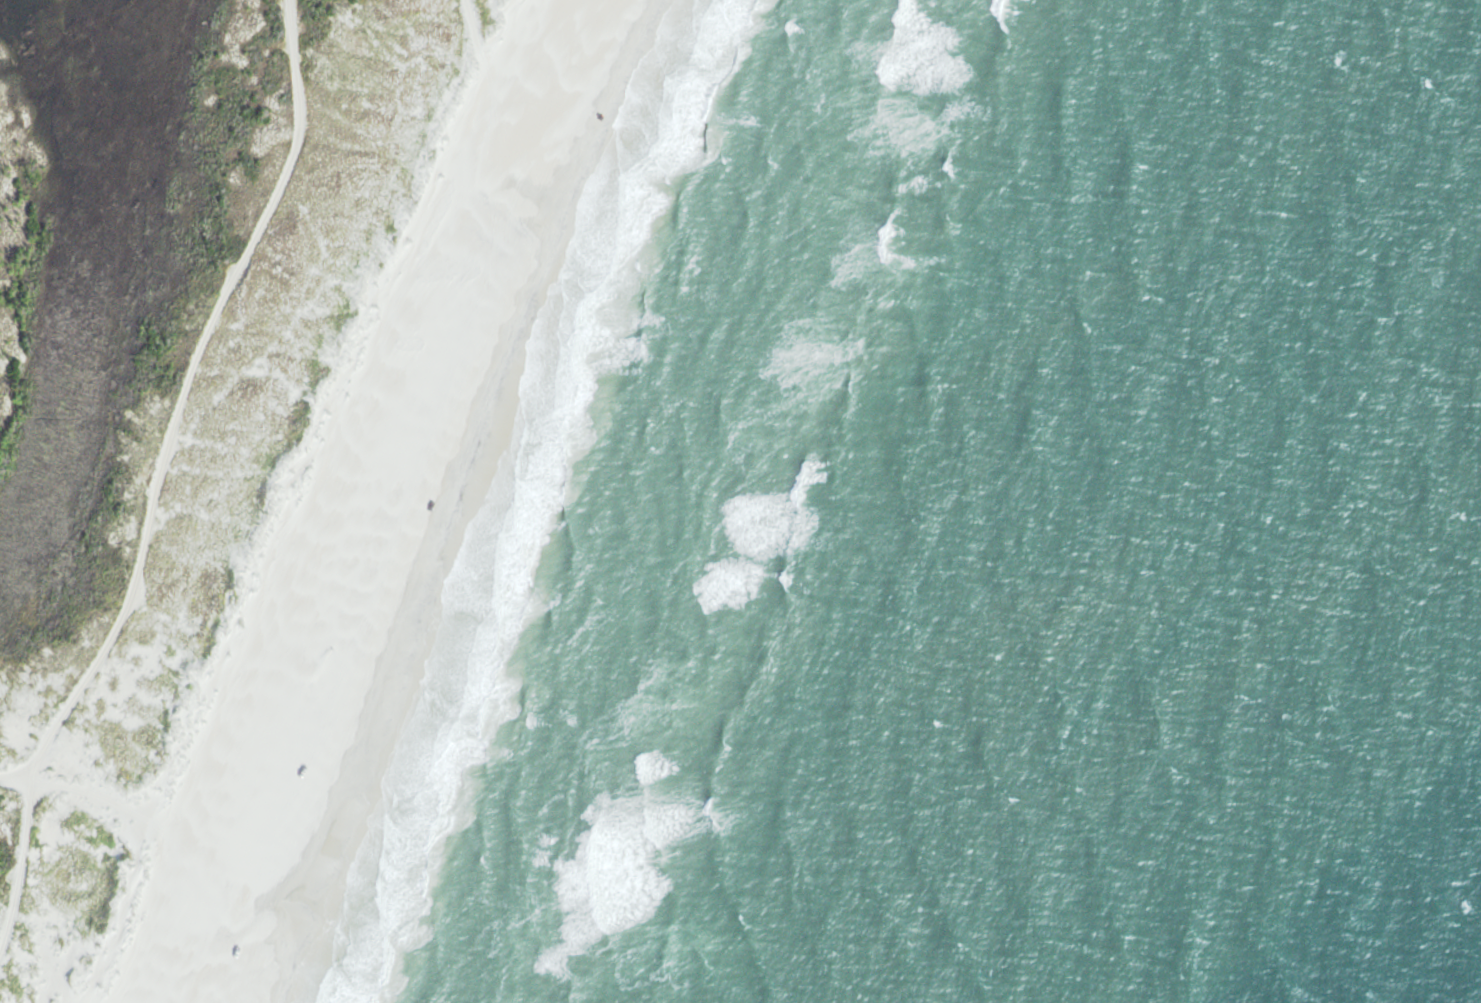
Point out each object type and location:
road: (480, 52)
road: (183, 394)
road: (15, 779)
road: (106, 797)
road: (22, 868)

